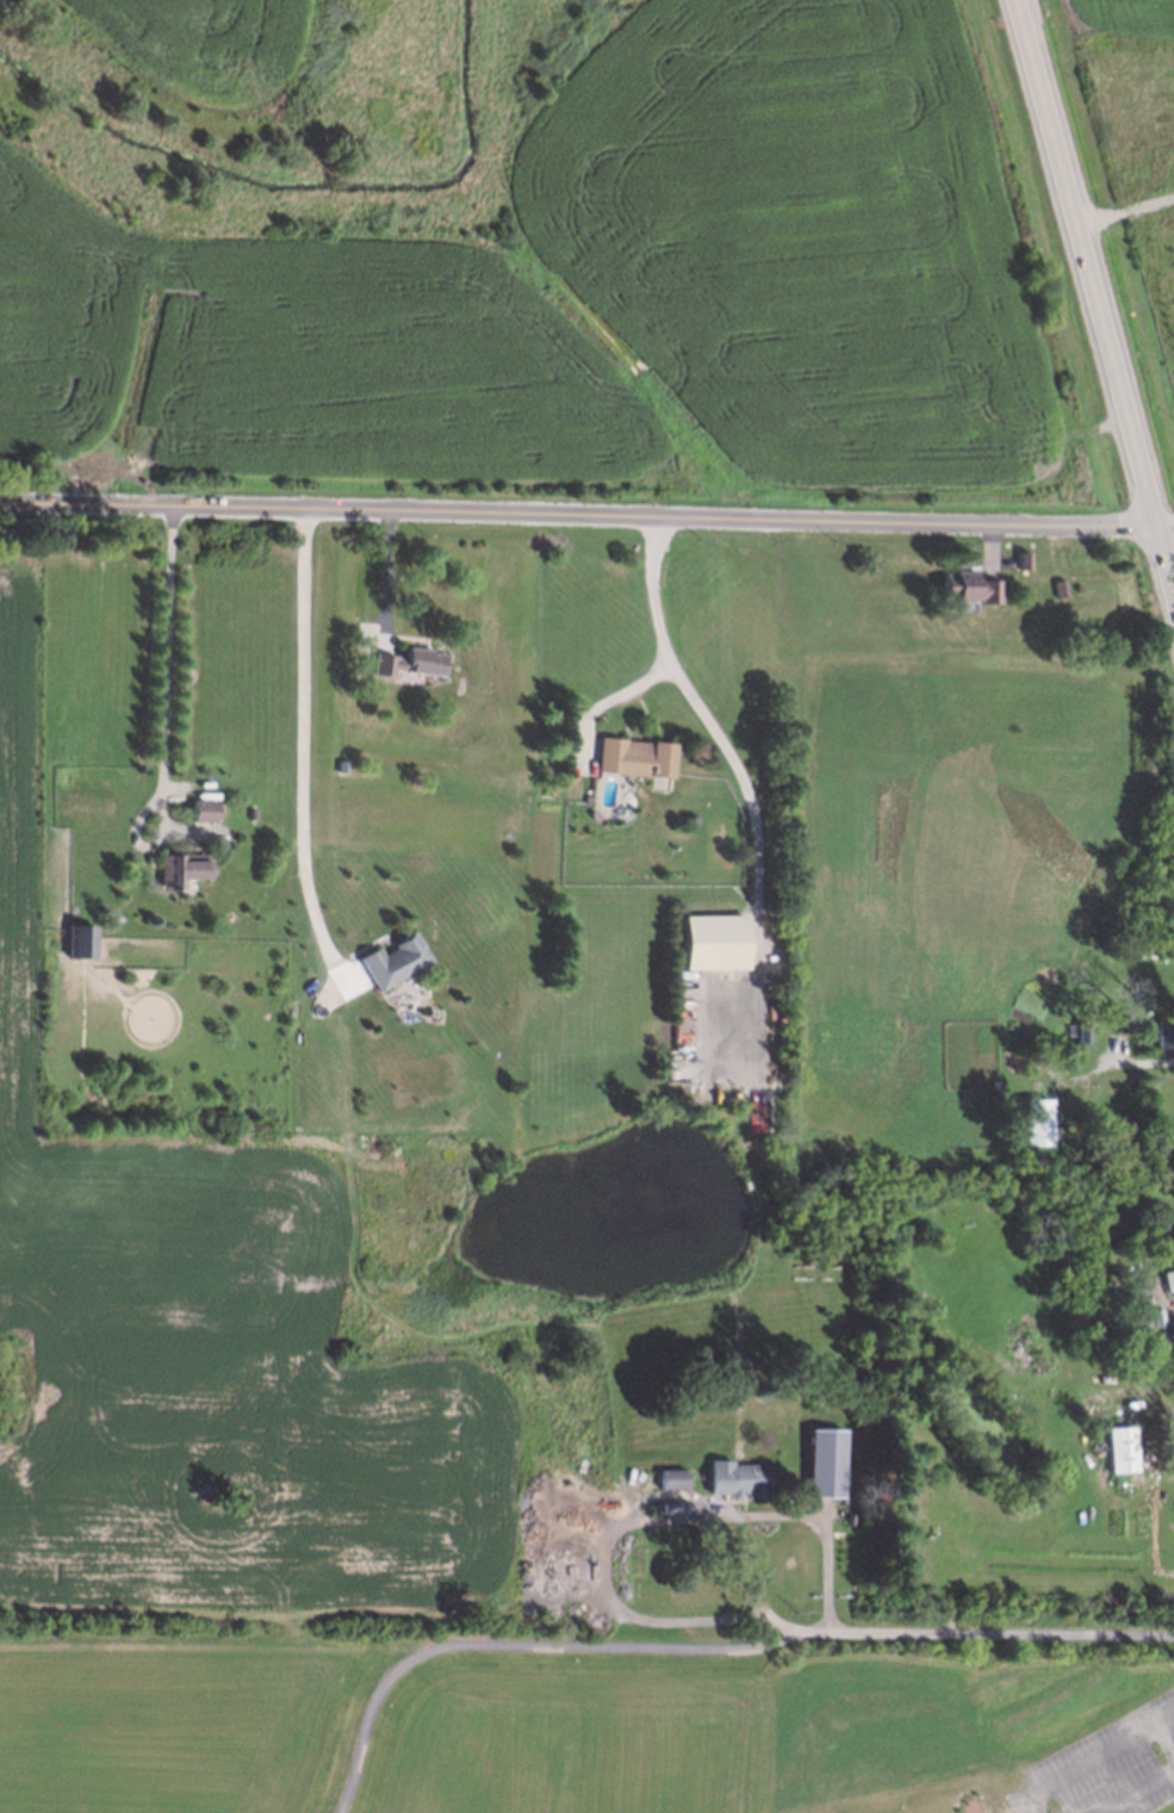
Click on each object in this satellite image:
road: (899, 149)
road: (1149, 293)
road: (1094, 298)
road: (530, 315)
road: (586, 516)
road: (386, 567)
building: (970, 588)
road: (661, 635)
road: (166, 654)
building: (410, 663)
road: (305, 756)
building: (635, 757)
road: (744, 787)
building: (204, 811)
building: (181, 870)
building: (81, 940)
building: (718, 943)
building: (395, 962)
building: (1166, 1037)
road: (1142, 1060)
building: (1038, 1122)
building: (1169, 1280)
building: (1122, 1449)
building: (825, 1463)
building: (672, 1478)
building: (737, 1479)
road: (632, 1504)
building: (681, 1507)
road: (704, 1649)
road: (1101, 1757)
road: (1137, 1790)
road: (1030, 1807)

